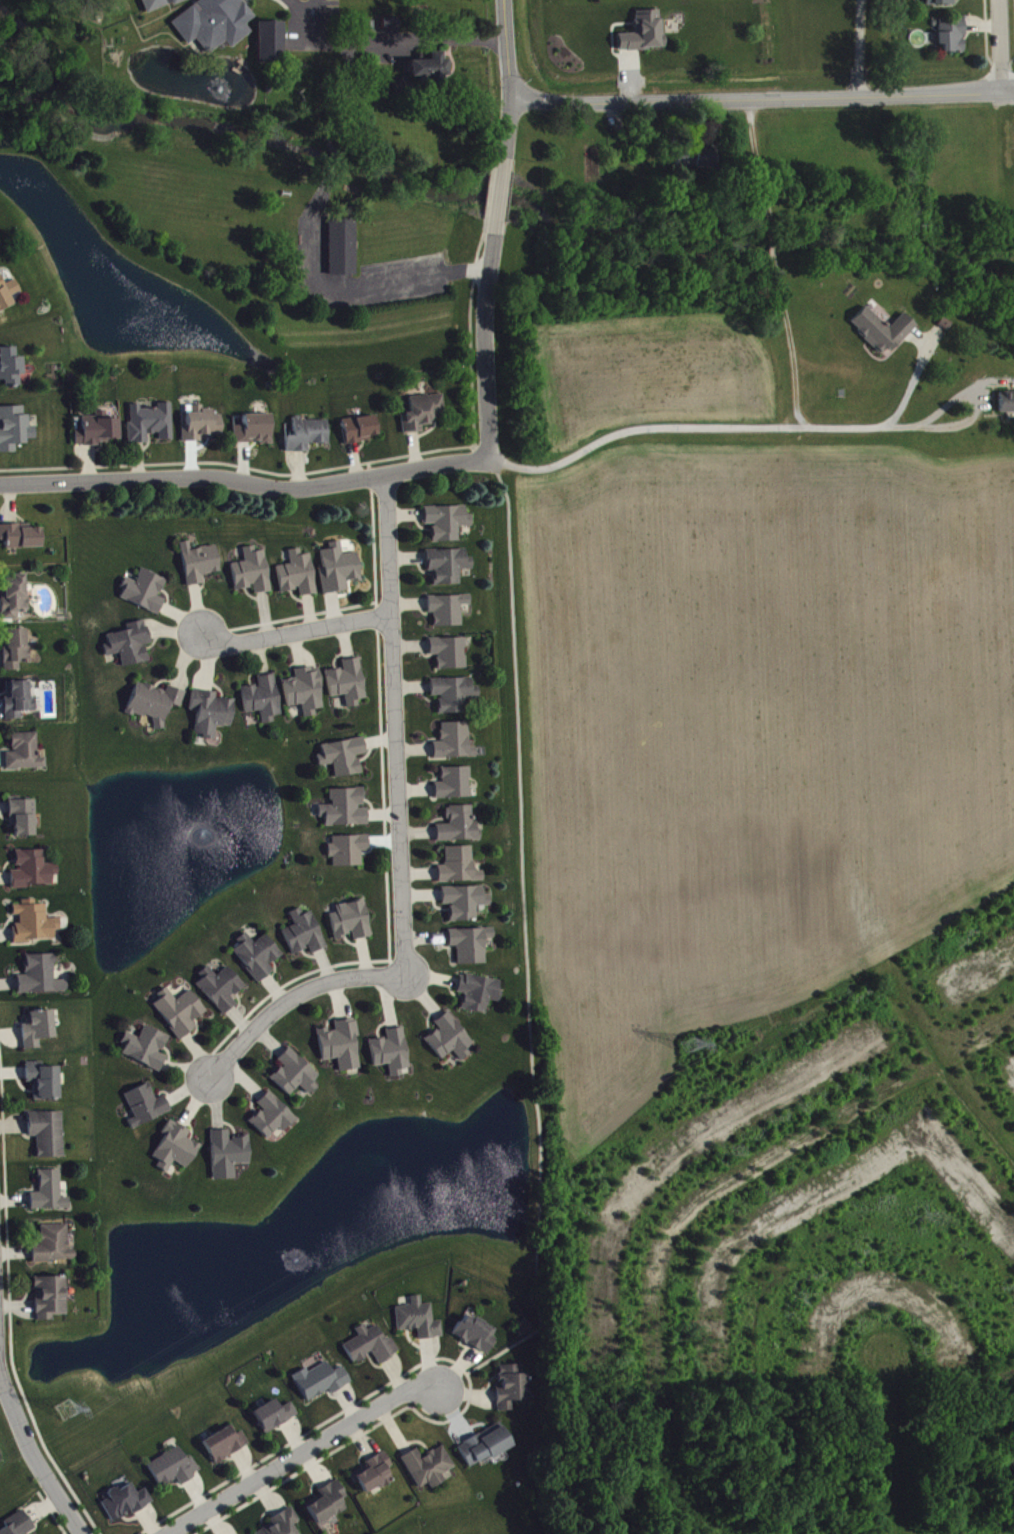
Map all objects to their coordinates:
building: (160, 6)
road: (304, 9)
building: (215, 27)
building: (391, 31)
building: (644, 37)
road: (393, 39)
building: (950, 40)
road: (1001, 45)
building: (271, 47)
road: (856, 47)
road: (505, 49)
building: (430, 74)
road: (342, 89)
road: (761, 97)
road: (508, 127)
road: (332, 153)
building: (695, 163)
road: (501, 194)
building: (343, 252)
road: (349, 284)
building: (8, 297)
building: (882, 335)
building: (10, 373)
building: (1006, 408)
building: (423, 418)
building: (150, 428)
building: (201, 429)
building: (12, 433)
building: (360, 434)
building: (97, 435)
building: (254, 435)
road: (729, 435)
building: (307, 440)
road: (358, 478)
building: (447, 527)
building: (20, 542)
building: (199, 568)
building: (448, 571)
building: (339, 574)
building: (252, 577)
building: (298, 579)
building: (144, 596)
building: (14, 599)
building: (448, 615)
road: (293, 632)
building: (130, 649)
building: (15, 653)
building: (449, 658)
building: (348, 688)
building: (305, 696)
building: (454, 699)
building: (263, 704)
building: (18, 705)
building: (154, 708)
building: (211, 718)
building: (454, 747)
building: (25, 758)
building: (343, 762)
building: (454, 788)
building: (345, 813)
building: (22, 823)
fountain: (201, 830)
building: (459, 831)
road: (398, 840)
building: (348, 855)
building: (459, 871)
building: (33, 875)
road: (523, 892)
building: (464, 907)
building: (351, 926)
building: (33, 928)
building: (303, 938)
building: (470, 950)
building: (257, 960)
building: (40, 981)
building: (220, 993)
building: (478, 998)
building: (179, 1017)
building: (38, 1034)
road: (916, 1037)
building: (449, 1043)
power tower: (687, 1045)
building: (341, 1050)
building: (145, 1053)
building: (391, 1057)
building: (294, 1079)
building: (43, 1086)
building: (145, 1111)
building: (272, 1121)
building: (47, 1139)
building: (175, 1153)
building: (228, 1159)
road: (754, 1169)
building: (49, 1197)
building: (53, 1250)
building: (50, 1303)
building: (418, 1325)
building: (475, 1339)
building: (370, 1351)
road: (489, 1358)
road: (0, 1368)
building: (322, 1386)
building: (510, 1392)
power tower: (62, 1414)
building: (274, 1421)
building: (225, 1450)
building: (484, 1451)
road: (301, 1452)
road: (35, 1457)
building: (428, 1472)
building: (173, 1473)
building: (372, 1479)
building: (126, 1507)
building: (327, 1508)
building: (284, 1525)
building: (18, 1527)

